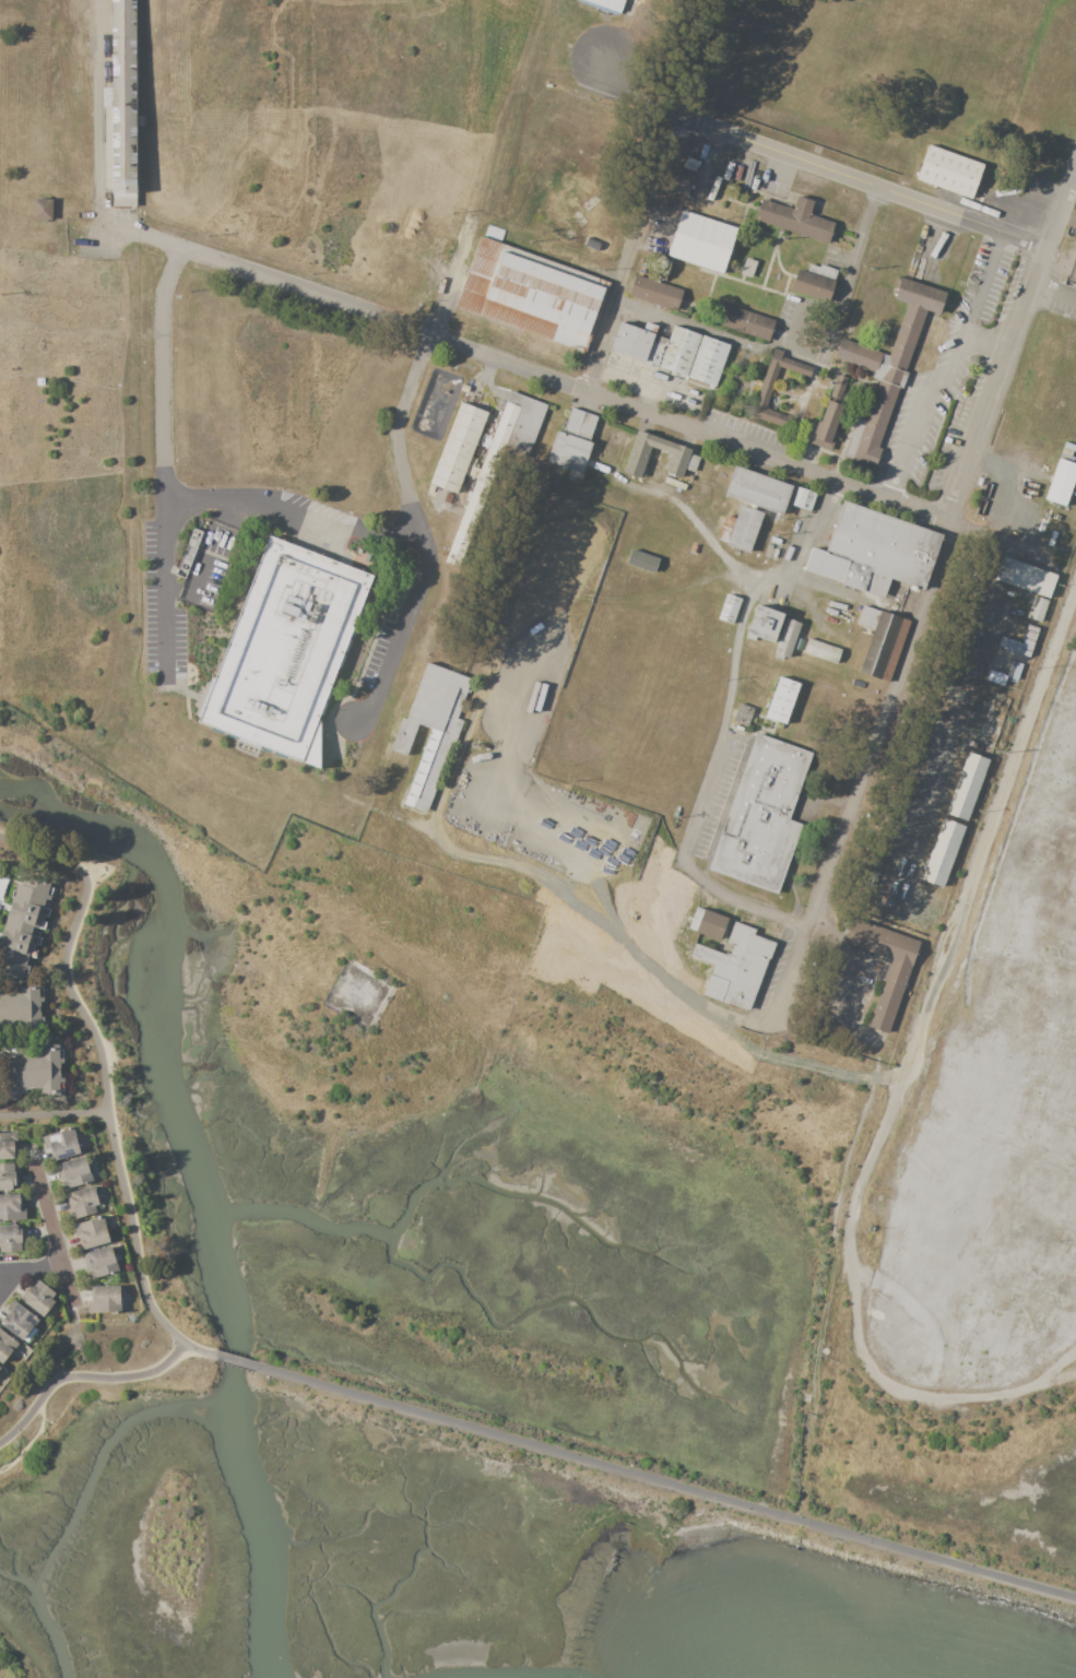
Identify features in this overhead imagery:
building: (593, 47)
building: (120, 107)
road: (97, 108)
building: (693, 161)
building: (688, 167)
building: (728, 170)
building: (948, 172)
road: (838, 174)
building: (679, 184)
building: (700, 185)
building: (713, 188)
road: (653, 190)
building: (40, 209)
building: (796, 218)
building: (700, 241)
building: (1067, 253)
building: (813, 281)
road: (841, 291)
building: (655, 292)
building: (531, 294)
road: (1056, 295)
building: (741, 321)
road: (721, 335)
road: (989, 339)
building: (672, 351)
building: (886, 368)
road: (524, 369)
road: (947, 371)
building: (464, 388)
building: (760, 393)
building: (831, 410)
building: (572, 442)
building: (459, 447)
road: (164, 460)
building: (683, 461)
building: (498, 462)
building: (602, 469)
building: (1060, 482)
building: (675, 485)
building: (756, 491)
building: (803, 499)
road: (410, 509)
road: (291, 519)
building: (724, 529)
building: (741, 530)
building: (776, 540)
building: (770, 546)
building: (874, 552)
building: (189, 553)
building: (775, 554)
building: (642, 560)
building: (1024, 576)
road: (926, 595)
building: (838, 602)
building: (730, 607)
building: (1037, 608)
building: (831, 612)
building: (867, 616)
building: (765, 624)
building: (787, 638)
building: (1028, 639)
building: (884, 646)
building: (821, 650)
building: (286, 653)
building: (1014, 670)
building: (995, 677)
road: (484, 690)
building: (782, 699)
building: (743, 713)
building: (431, 728)
road: (721, 732)
building: (972, 744)
building: (967, 785)
building: (761, 815)
building: (912, 817)
building: (943, 851)
road: (106, 865)
road: (974, 870)
road: (598, 911)
building: (707, 923)
building: (24, 926)
building: (735, 967)
road: (847, 988)
building: (890, 993)
building: (23, 1009)
road: (105, 1067)
building: (33, 1071)
road: (56, 1114)
park: (107, 1131)
building: (8, 1144)
building: (61, 1144)
building: (74, 1172)
building: (8, 1177)
building: (83, 1202)
building: (11, 1207)
building: (91, 1233)
road: (56, 1238)
building: (11, 1239)
building: (117, 1257)
building: (100, 1262)
road: (35, 1265)
road: (4, 1272)
road: (4, 1283)
building: (39, 1297)
building: (105, 1299)
building: (20, 1322)
road: (66, 1343)
building: (5, 1345)
road: (198, 1351)
road: (235, 1362)
building: (0, 1367)
road: (866, 1368)
road: (85, 1379)
road: (84, 1397)
road: (28, 1442)
road: (666, 1486)
park: (625, 1489)
park: (10, 1663)

